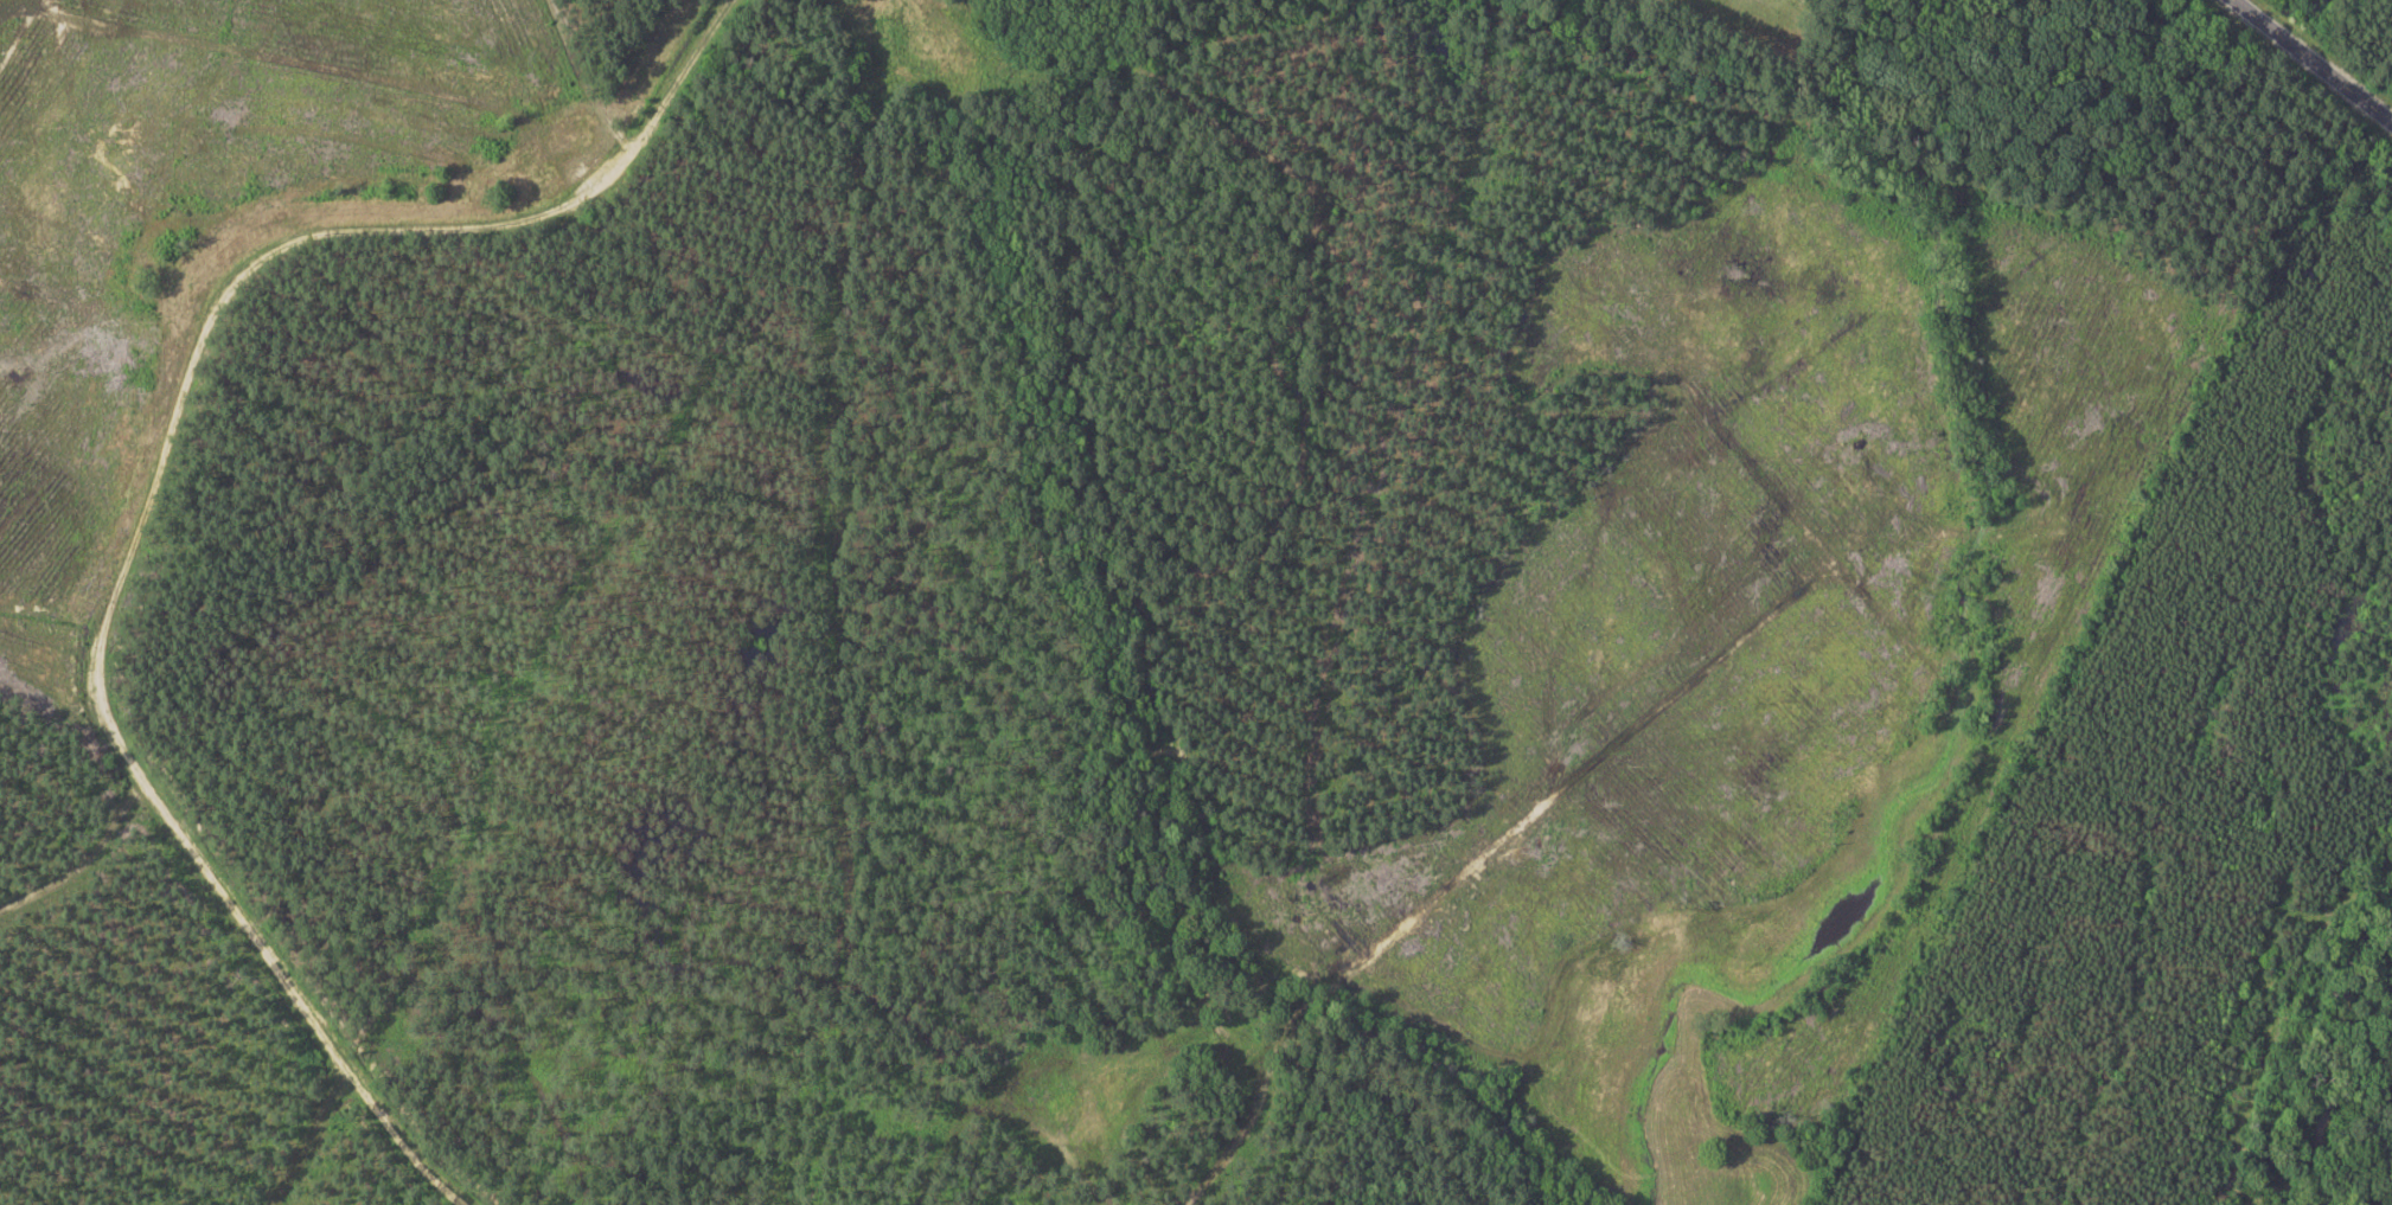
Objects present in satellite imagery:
road: (2303, 69)

